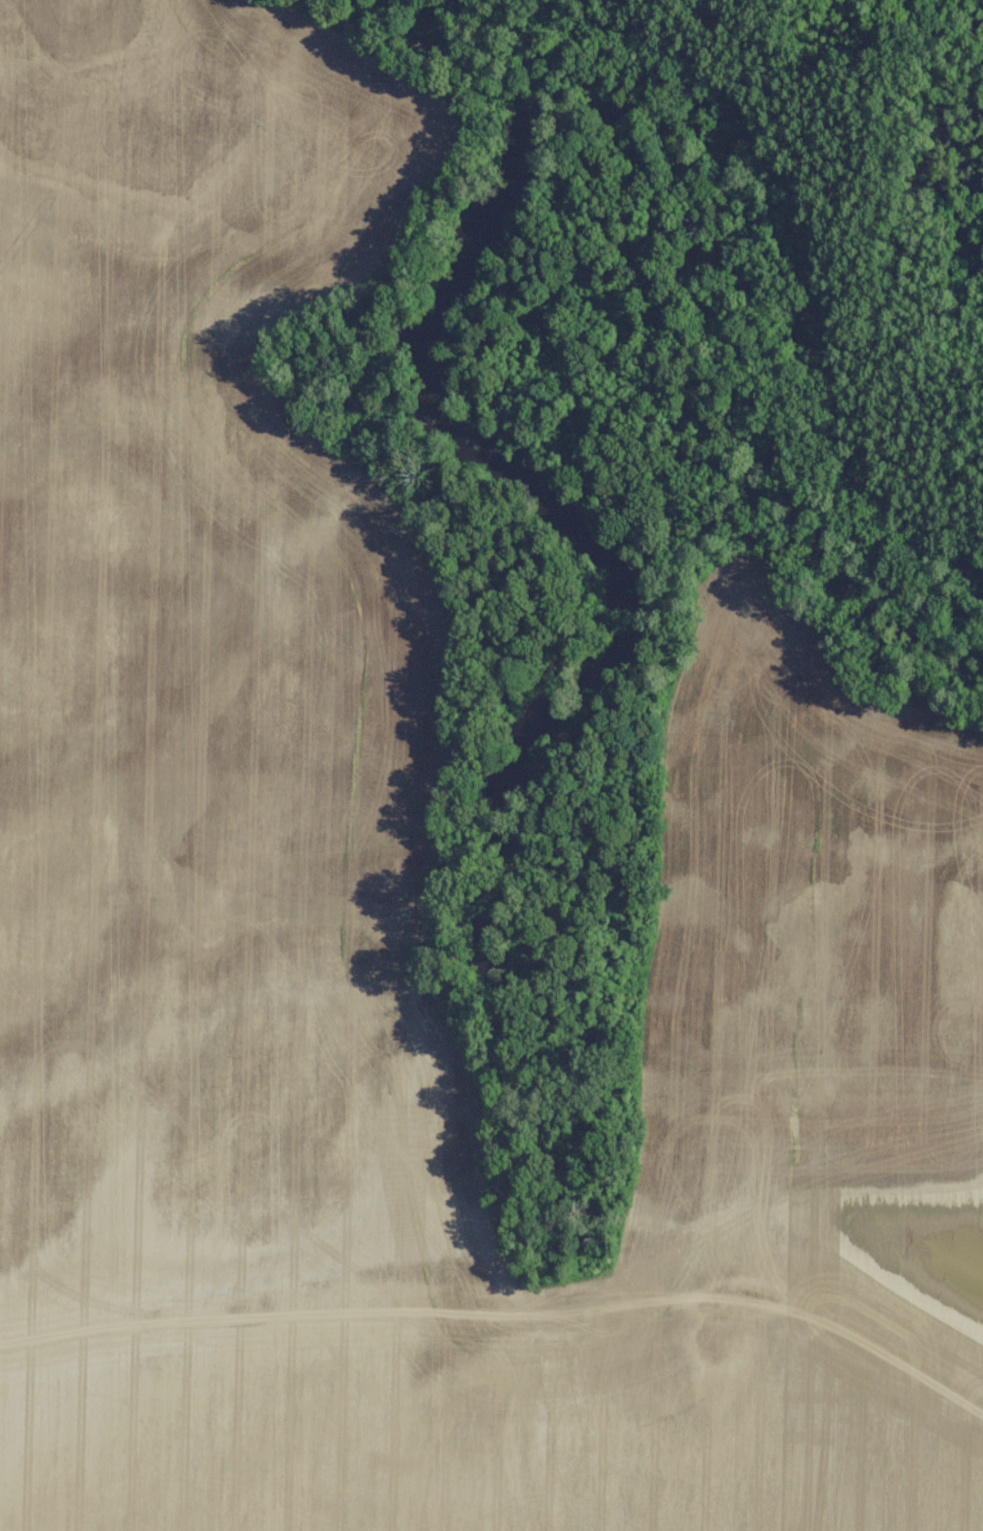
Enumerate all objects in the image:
road: (506, 1314)

